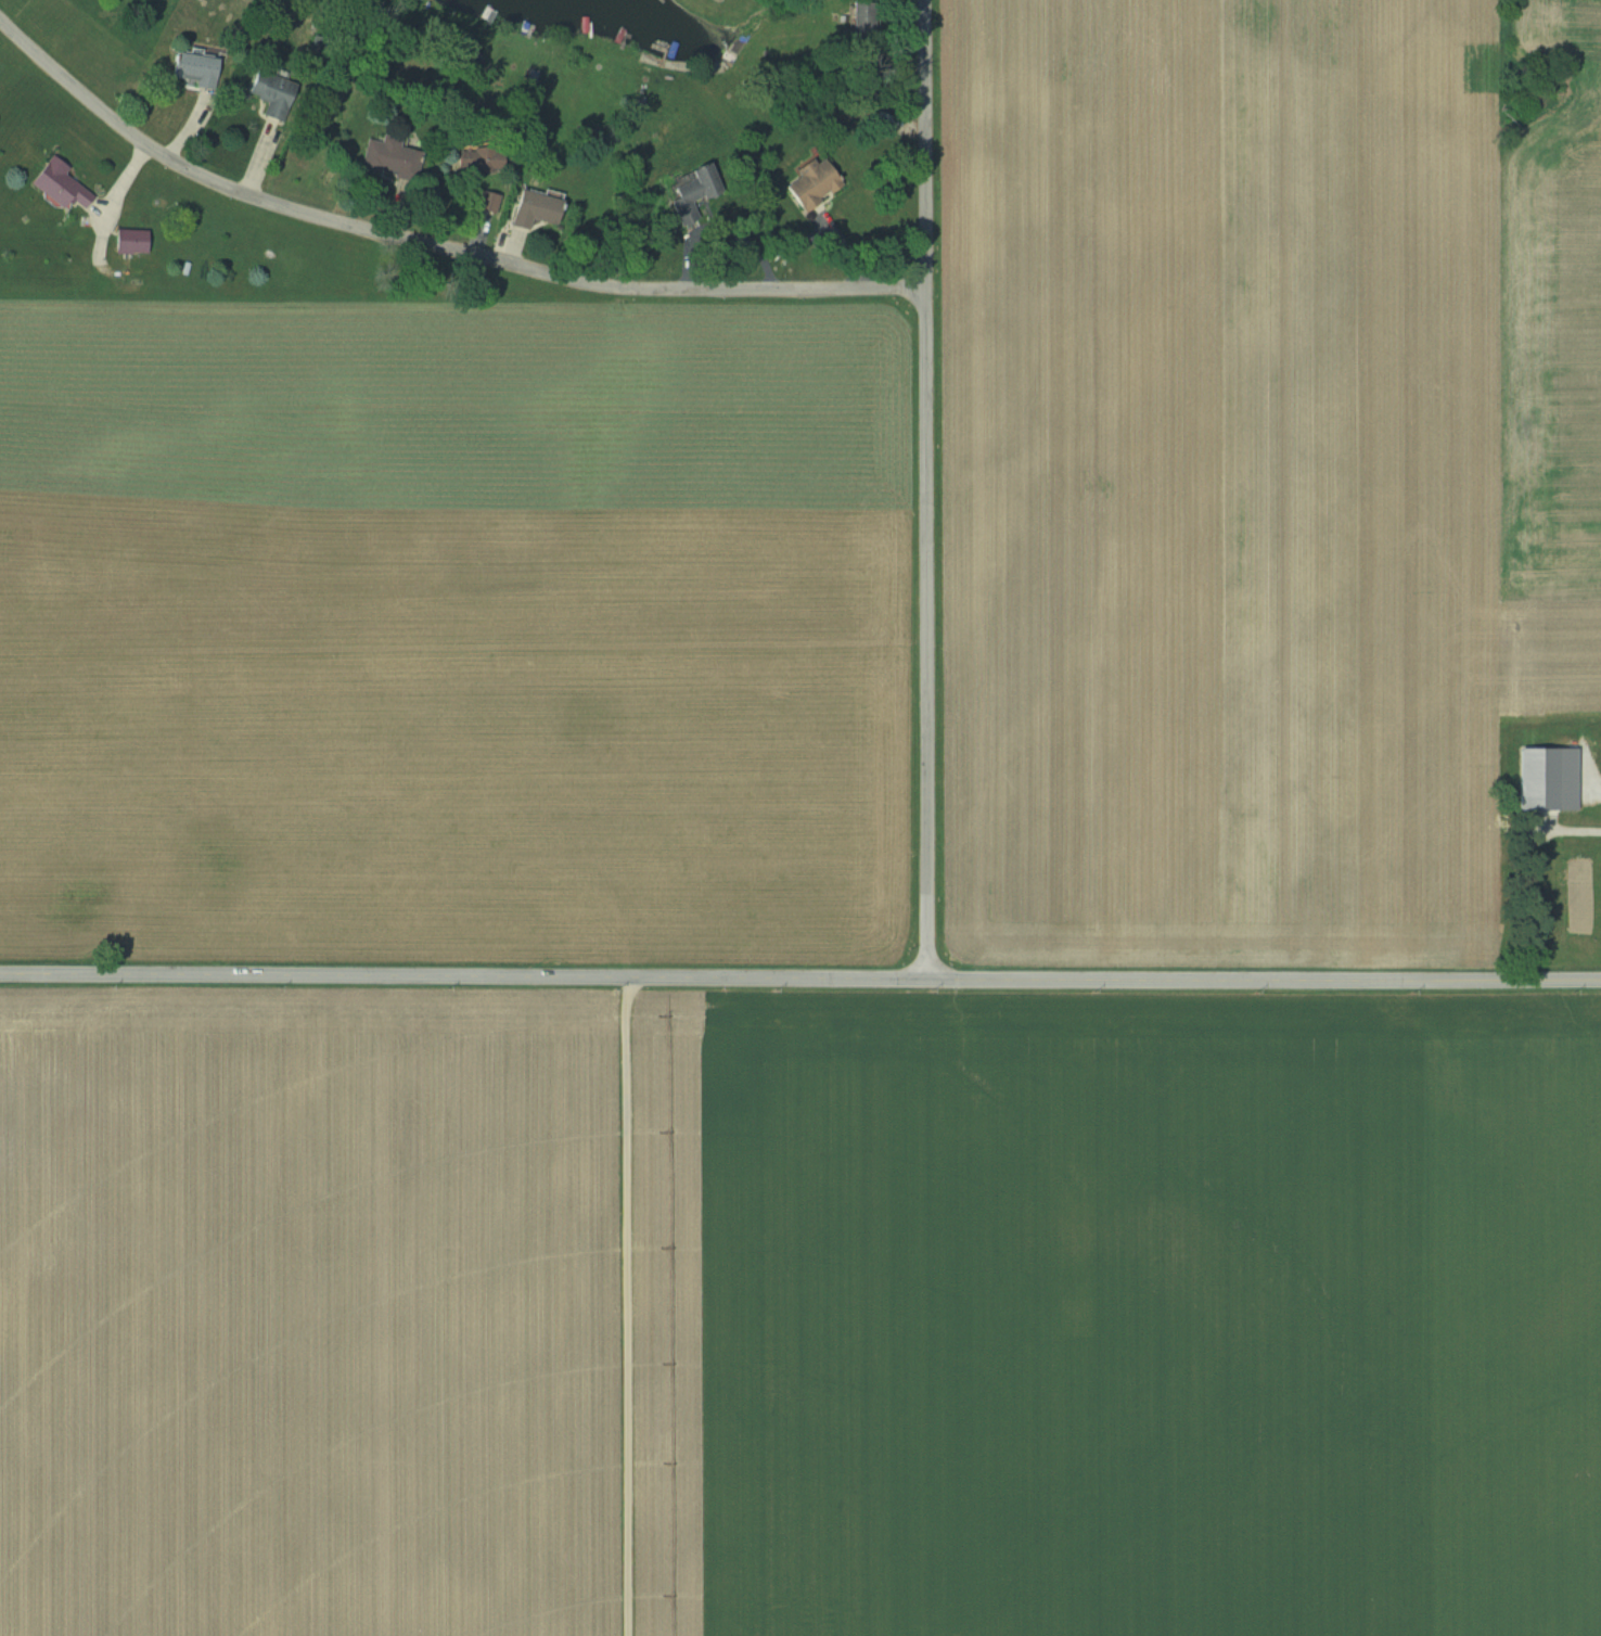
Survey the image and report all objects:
building: (193, 68)
building: (269, 94)
building: (388, 156)
building: (477, 161)
building: (809, 183)
building: (56, 186)
building: (686, 193)
building: (485, 201)
building: (534, 208)
building: (127, 241)
road: (432, 244)
road: (925, 489)
building: (1544, 778)
road: (799, 979)
road: (638, 1306)

